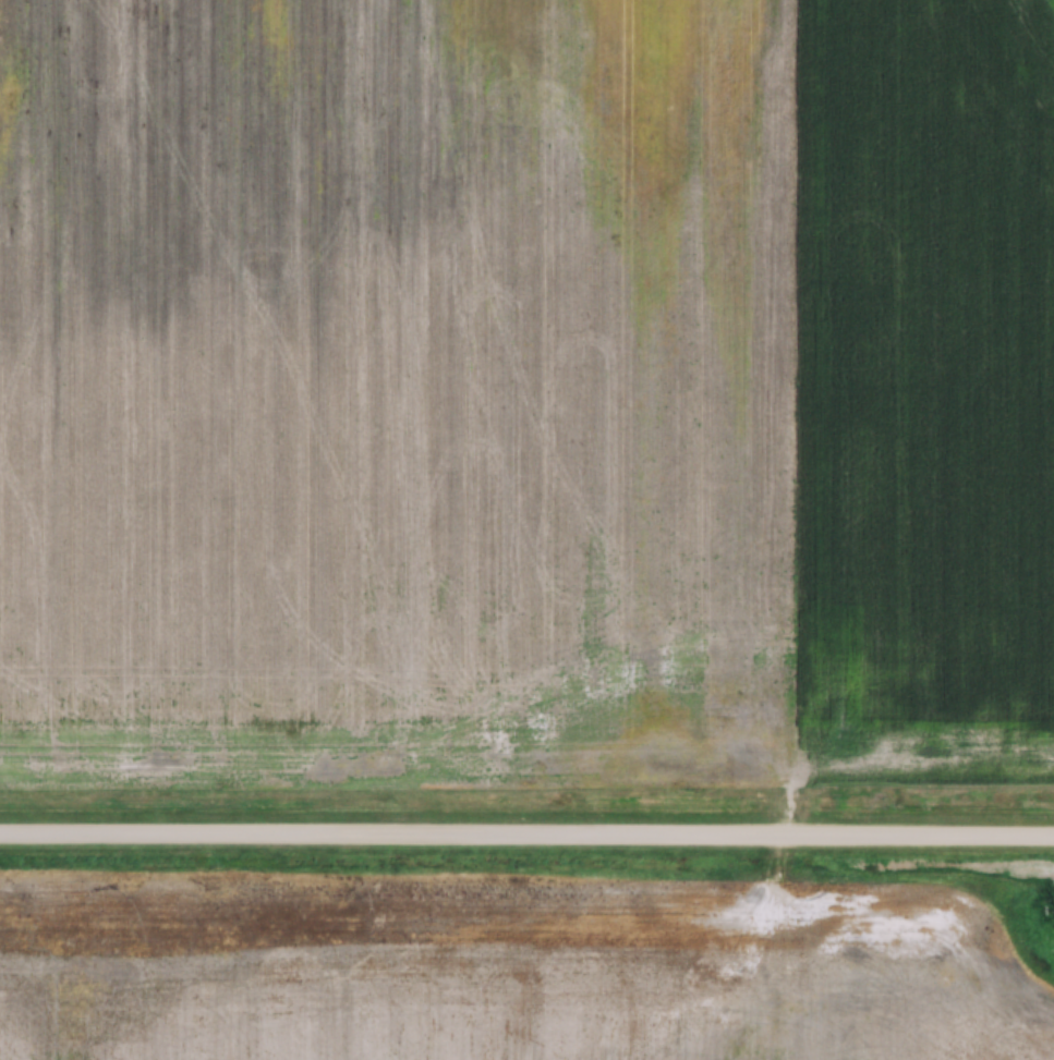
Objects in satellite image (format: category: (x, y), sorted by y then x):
road: (526, 837)

